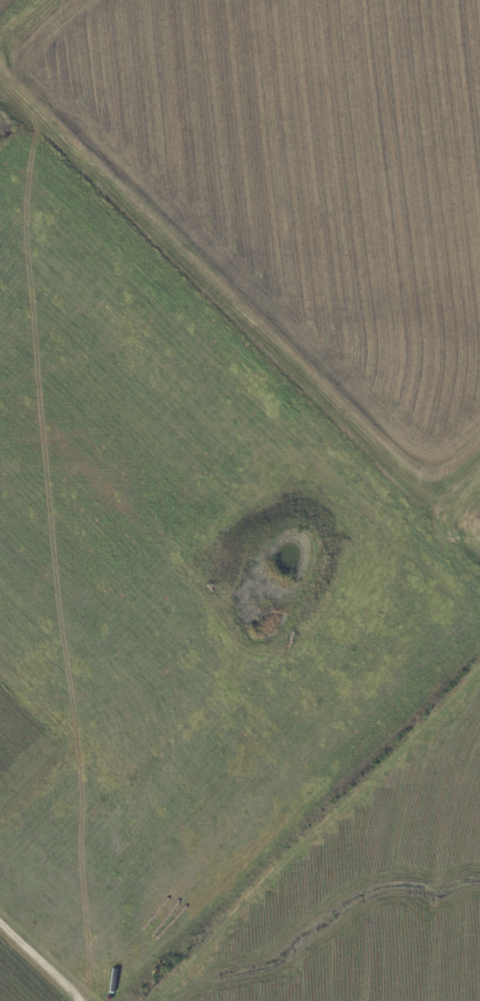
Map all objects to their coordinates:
road: (40, 960)

